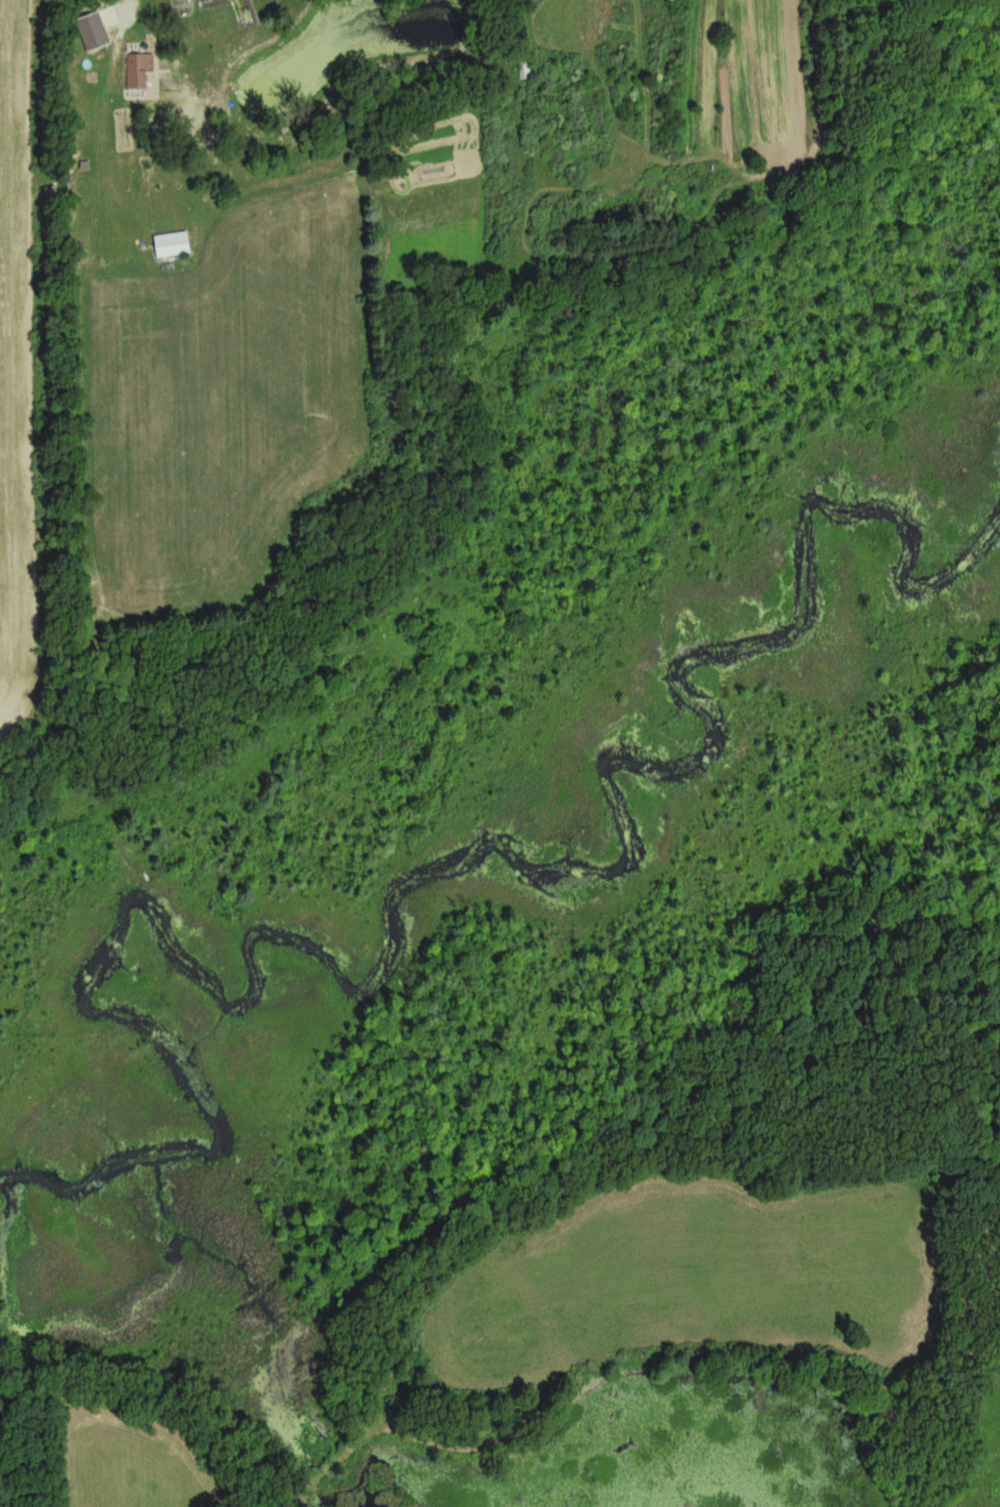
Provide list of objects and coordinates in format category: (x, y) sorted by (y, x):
road: (135, 3)
road: (138, 3)
building: (97, 35)
building: (524, 71)
building: (137, 73)
building: (178, 247)
crop: (11, 367)

